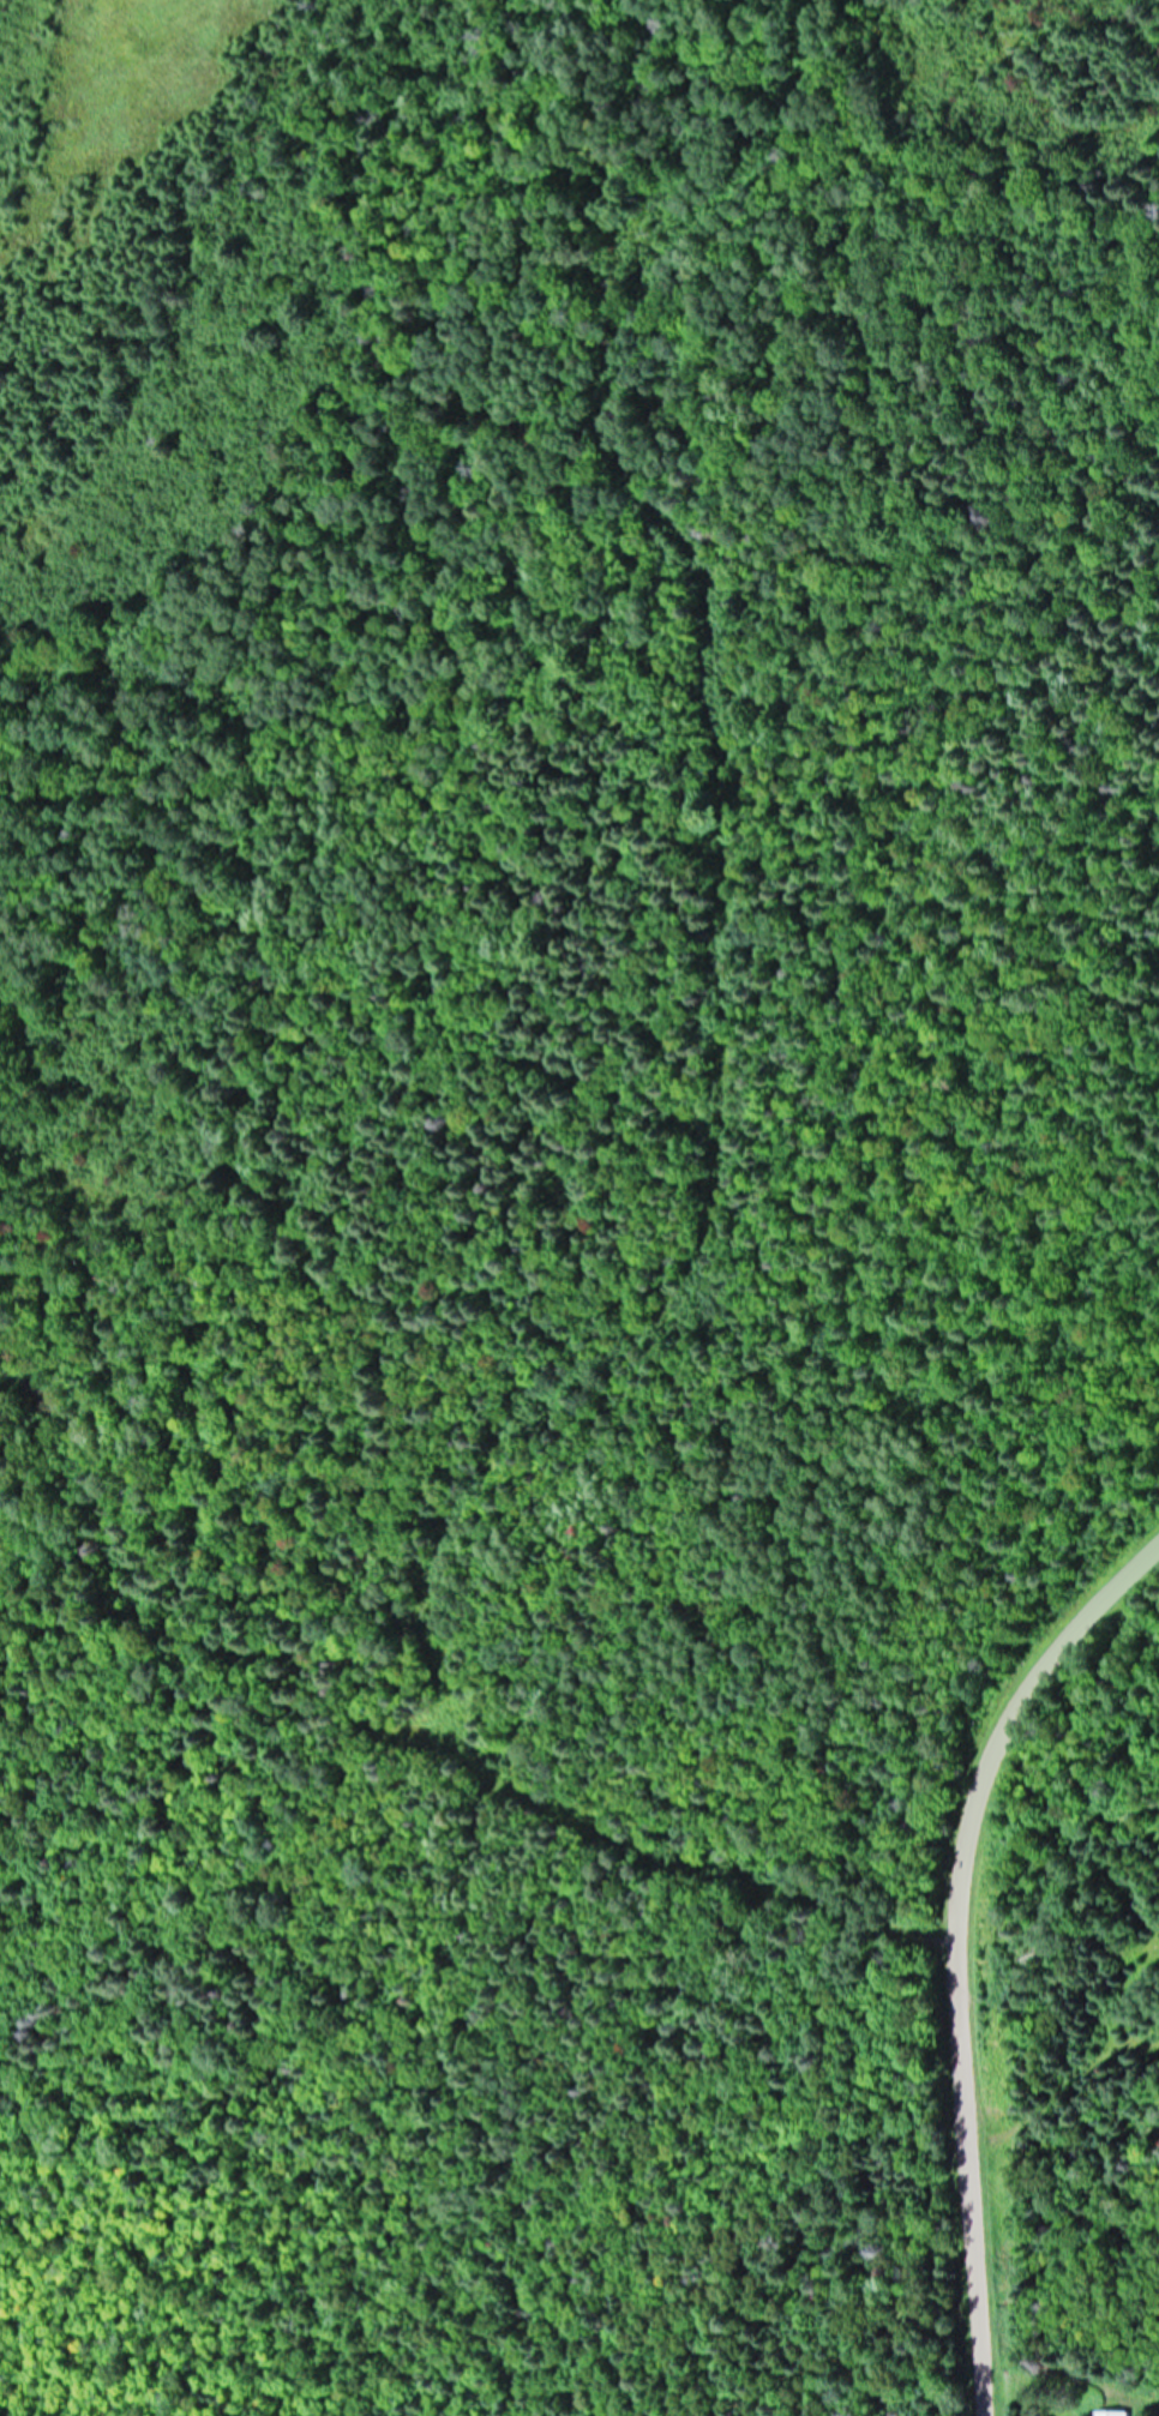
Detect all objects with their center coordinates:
road: (932, 1940)
road: (960, 1952)
building: (1109, 2415)

